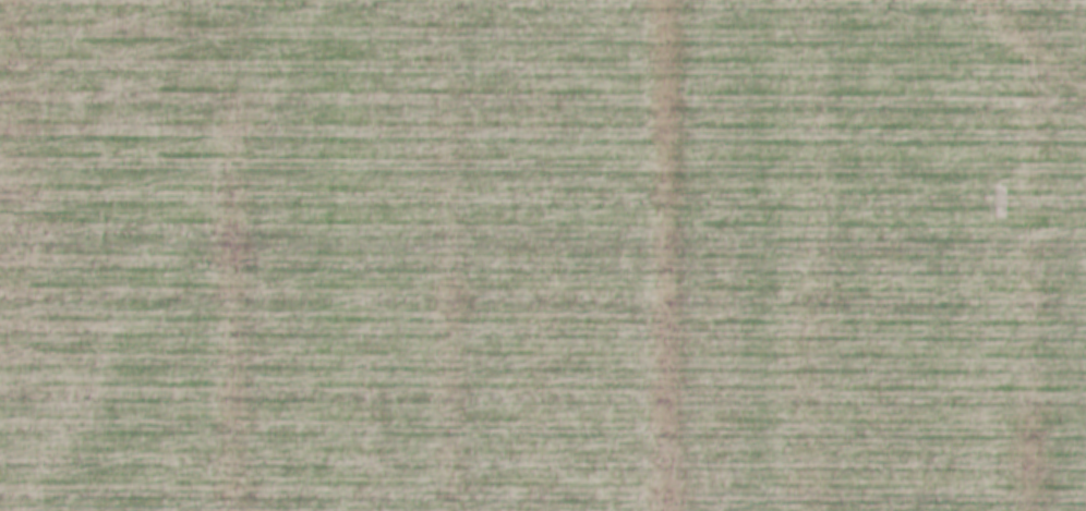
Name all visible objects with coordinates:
crop: (543, 255)

